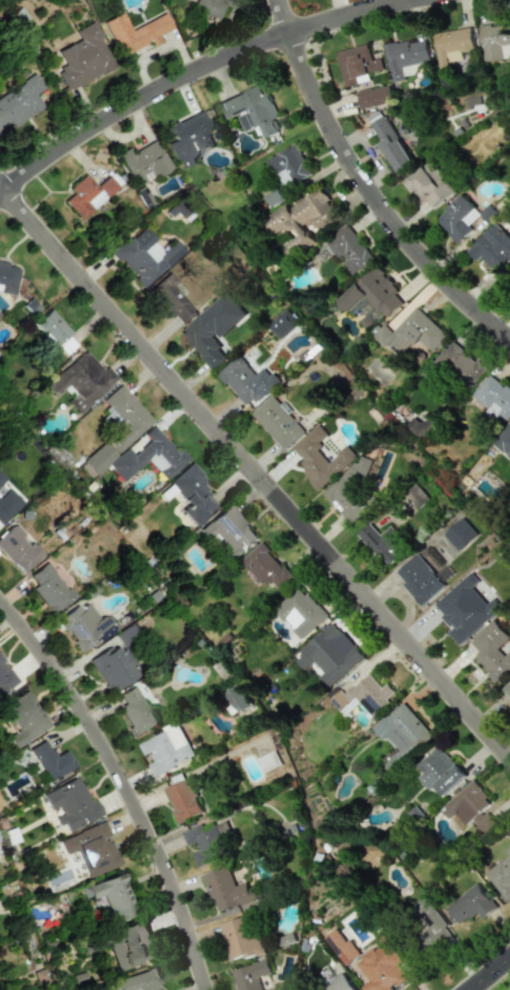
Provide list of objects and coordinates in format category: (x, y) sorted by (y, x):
building: (211, 6)
building: (135, 33)
building: (495, 42)
building: (453, 45)
building: (83, 58)
building: (406, 58)
building: (357, 64)
road: (187, 69)
building: (374, 96)
building: (19, 102)
building: (252, 111)
building: (189, 139)
building: (143, 163)
building: (289, 166)
road: (367, 184)
building: (429, 184)
building: (107, 186)
building: (144, 196)
building: (84, 197)
building: (273, 197)
building: (303, 218)
building: (458, 218)
building: (492, 248)
building: (349, 250)
building: (140, 258)
building: (8, 278)
building: (372, 298)
building: (171, 301)
building: (283, 324)
building: (213, 329)
building: (54, 331)
building: (415, 333)
building: (383, 335)
building: (455, 366)
building: (245, 380)
building: (81, 381)
building: (494, 398)
building: (123, 417)
building: (277, 422)
building: (504, 441)
building: (148, 456)
building: (320, 458)
building: (96, 460)
road: (255, 474)
building: (1, 479)
building: (349, 490)
building: (193, 495)
building: (415, 496)
building: (8, 505)
building: (228, 533)
building: (460, 534)
building: (380, 543)
building: (17, 549)
building: (264, 567)
building: (419, 579)
building: (49, 588)
building: (467, 608)
building: (301, 612)
building: (84, 627)
building: (492, 650)
building: (330, 652)
building: (116, 661)
building: (6, 677)
building: (507, 689)
building: (362, 695)
building: (238, 698)
building: (135, 712)
building: (23, 718)
building: (402, 735)
building: (166, 749)
building: (51, 760)
building: (441, 770)
road: (120, 785)
building: (183, 800)
building: (71, 804)
building: (470, 807)
building: (206, 842)
building: (93, 848)
building: (501, 875)
building: (228, 890)
building: (470, 905)
building: (429, 922)
building: (239, 938)
building: (128, 945)
building: (340, 946)
building: (381, 967)
road: (486, 970)
building: (250, 975)
building: (139, 981)
park: (499, 981)
building: (340, 984)

